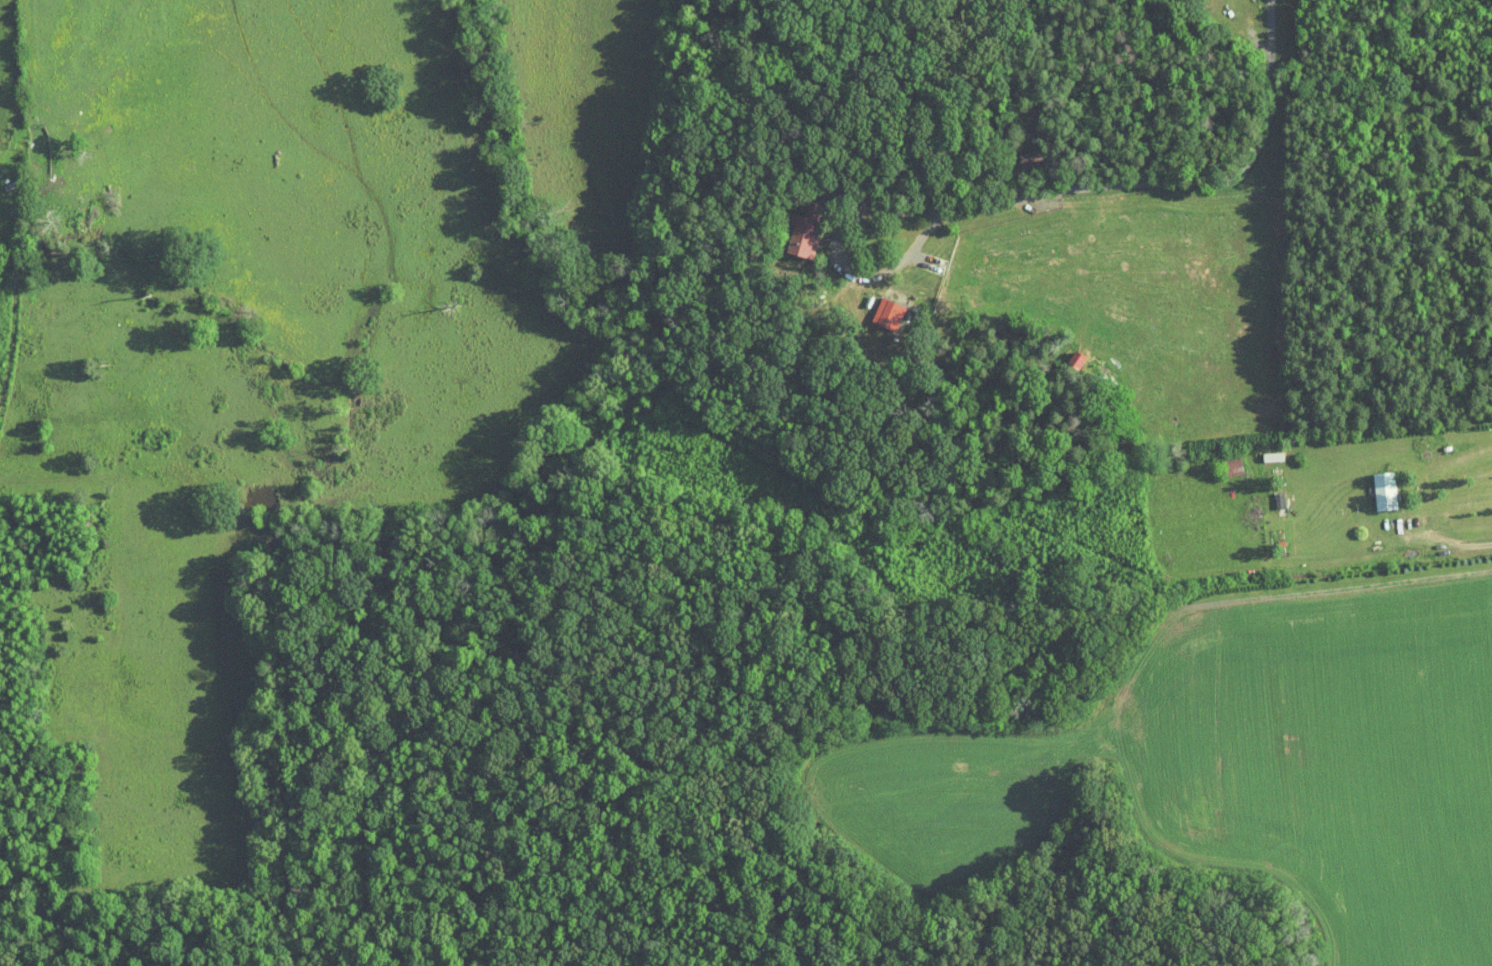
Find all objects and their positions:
road: (1181, 185)
building: (791, 224)
road: (840, 257)
building: (1064, 351)
building: (1373, 484)
road: (1397, 548)

